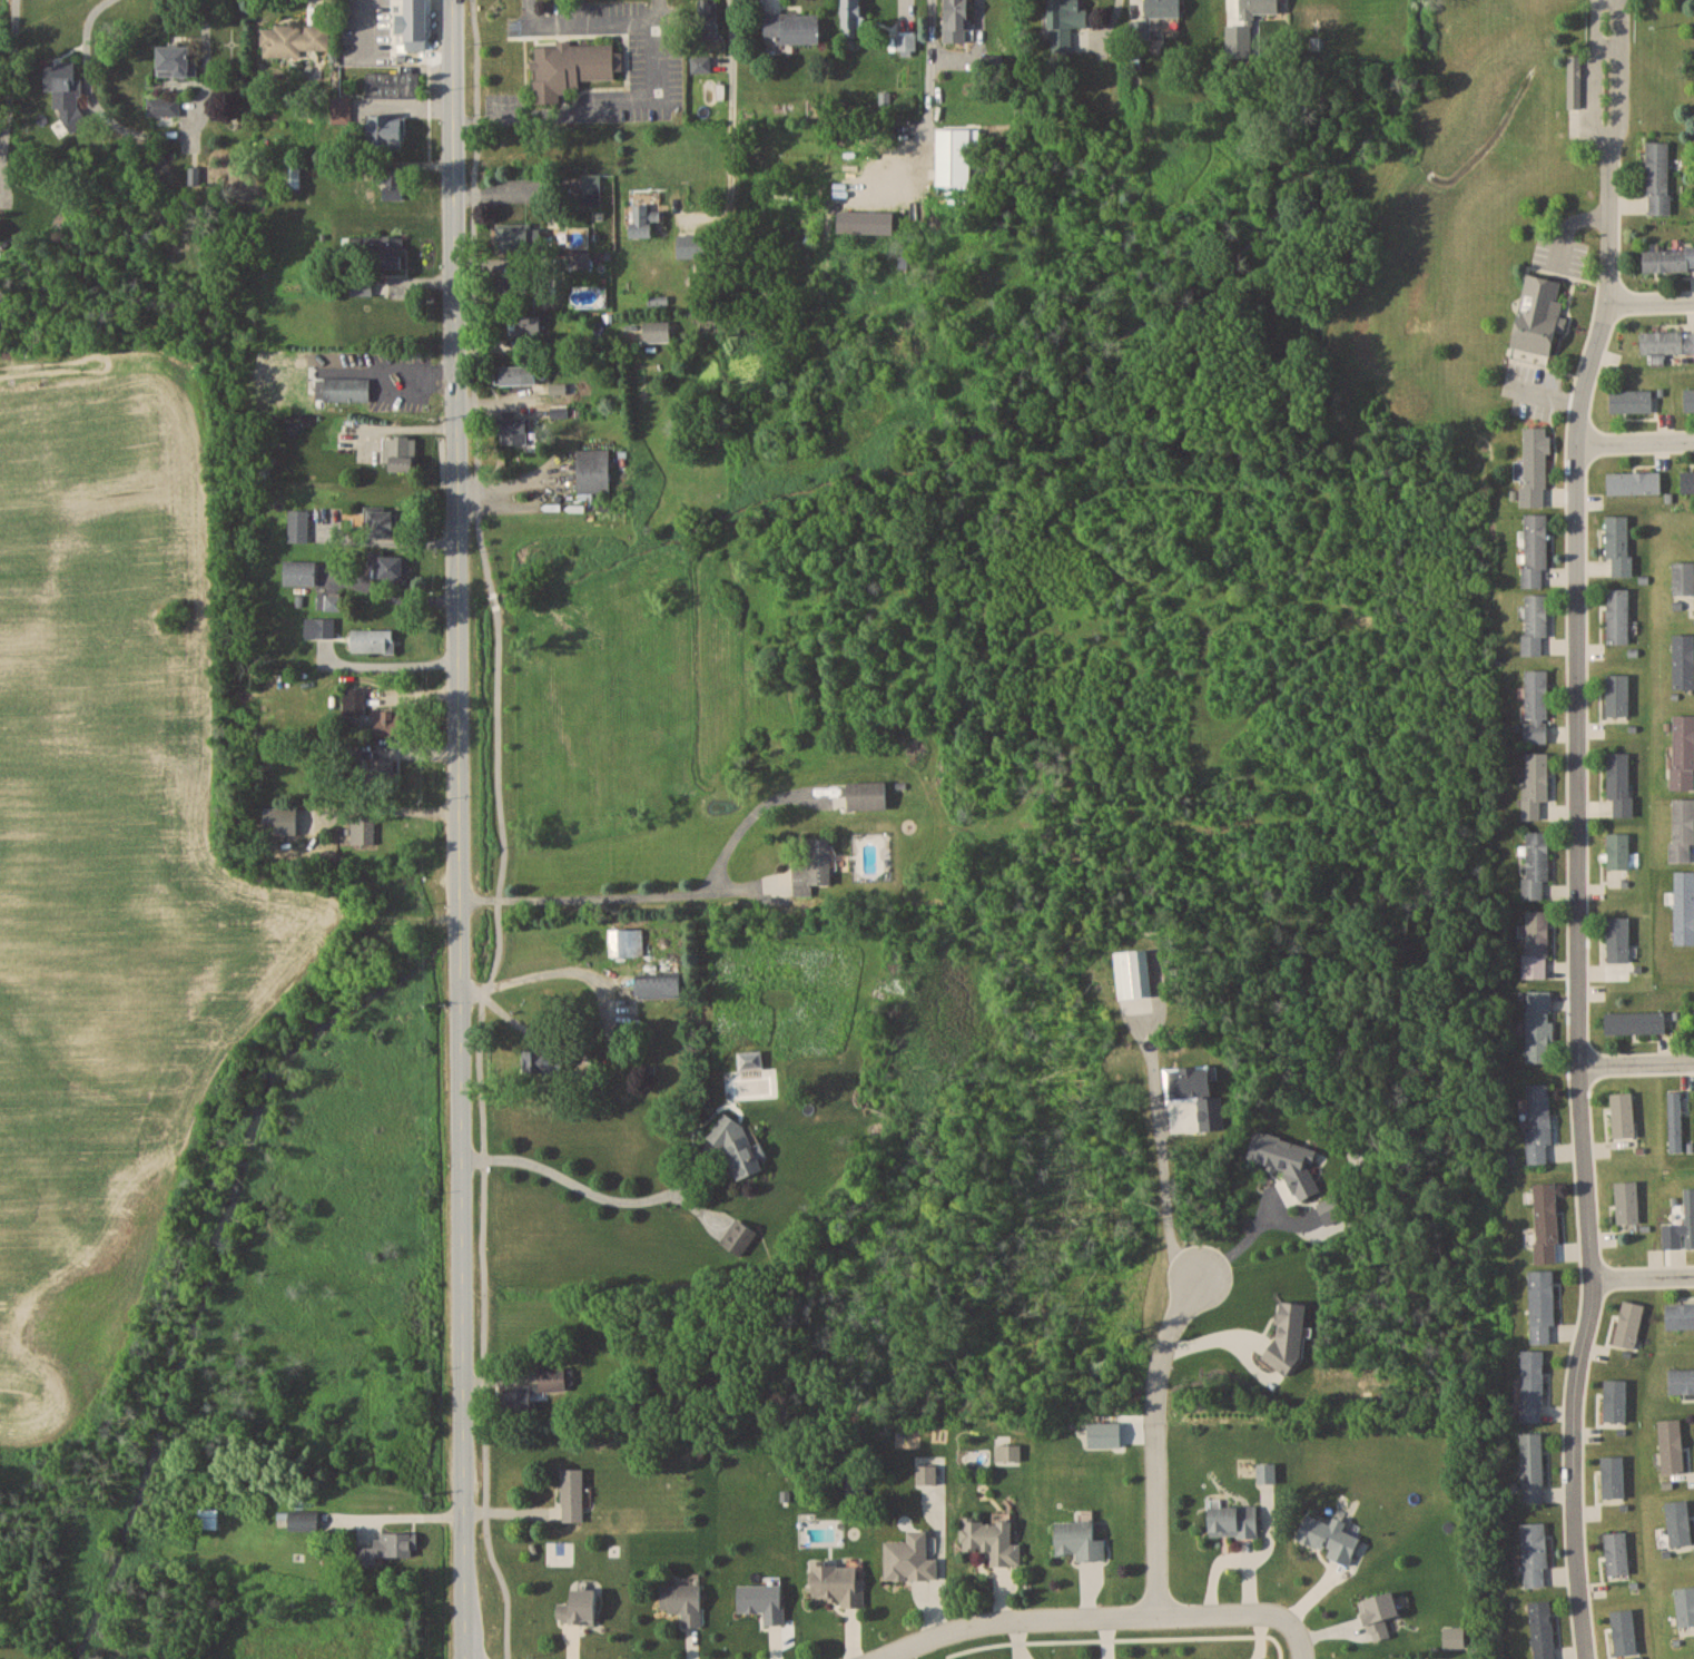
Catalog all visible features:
building: (1260, 7)
building: (956, 16)
building: (853, 18)
building: (708, 19)
building: (1149, 19)
road: (594, 22)
building: (414, 23)
building: (1063, 23)
building: (792, 28)
building: (295, 39)
building: (906, 40)
road: (974, 49)
building: (571, 58)
building: (176, 60)
road: (7, 67)
road: (926, 70)
building: (1575, 81)
building: (392, 82)
building: (67, 98)
road: (594, 105)
road: (731, 105)
building: (161, 108)
building: (387, 130)
road: (150, 131)
building: (954, 157)
building: (293, 173)
building: (1658, 177)
building: (393, 184)
building: (598, 188)
building: (644, 220)
building: (521, 238)
building: (691, 245)
building: (378, 251)
building: (1668, 259)
building: (361, 285)
building: (521, 285)
road: (1652, 297)
road: (477, 298)
building: (1539, 314)
building: (525, 325)
building: (657, 331)
building: (1666, 342)
building: (518, 374)
building: (344, 381)
building: (1688, 400)
building: (1631, 401)
building: (513, 430)
building: (345, 439)
road: (1639, 442)
road: (455, 448)
building: (400, 454)
building: (1535, 467)
building: (593, 470)
building: (1687, 481)
building: (1634, 482)
building: (383, 523)
building: (298, 526)
building: (1618, 546)
building: (1535, 550)
building: (390, 567)
building: (299, 572)
building: (1683, 578)
road: (392, 595)
building: (329, 601)
road: (500, 603)
building: (1617, 616)
building: (1535, 625)
building: (324, 627)
building: (373, 641)
building: (1683, 661)
road: (386, 666)
building: (1617, 694)
building: (1536, 705)
building: (390, 723)
building: (1683, 750)
building: (383, 773)
building: (1618, 781)
building: (1535, 783)
building: (867, 794)
building: (280, 821)
road: (1577, 828)
building: (1682, 828)
building: (363, 829)
building: (1616, 856)
building: (815, 863)
building: (1536, 864)
road: (658, 894)
building: (1683, 906)
building: (1618, 939)
building: (627, 941)
road: (457, 942)
building: (1536, 943)
road: (570, 971)
building: (659, 985)
building: (1635, 1022)
building: (1538, 1025)
building: (543, 1059)
road: (1634, 1060)
building: (1622, 1116)
building: (1674, 1121)
building: (1539, 1122)
road: (487, 1136)
building: (739, 1148)
road: (1163, 1150)
road: (582, 1186)
building: (1627, 1201)
building: (1546, 1221)
building: (738, 1236)
road: (1642, 1276)
building: (1542, 1306)
building: (1680, 1315)
road: (462, 1323)
building: (1681, 1380)
building: (1533, 1385)
building: (533, 1390)
road: (1160, 1439)
building: (1672, 1445)
building: (1007, 1446)
building: (926, 1467)
building: (1533, 1467)
building: (1267, 1472)
building: (855, 1485)
building: (572, 1494)
building: (207, 1518)
road: (394, 1518)
building: (1233, 1520)
building: (303, 1522)
building: (988, 1530)
building: (1076, 1533)
building: (1330, 1537)
building: (385, 1547)
building: (906, 1550)
building: (1616, 1552)
building: (1534, 1553)
building: (834, 1578)
building: (759, 1593)
building: (680, 1594)
building: (580, 1607)
building: (1685, 1607)
road: (1073, 1617)
building: (1542, 1629)
road: (1125, 1632)
road: (1294, 1635)

